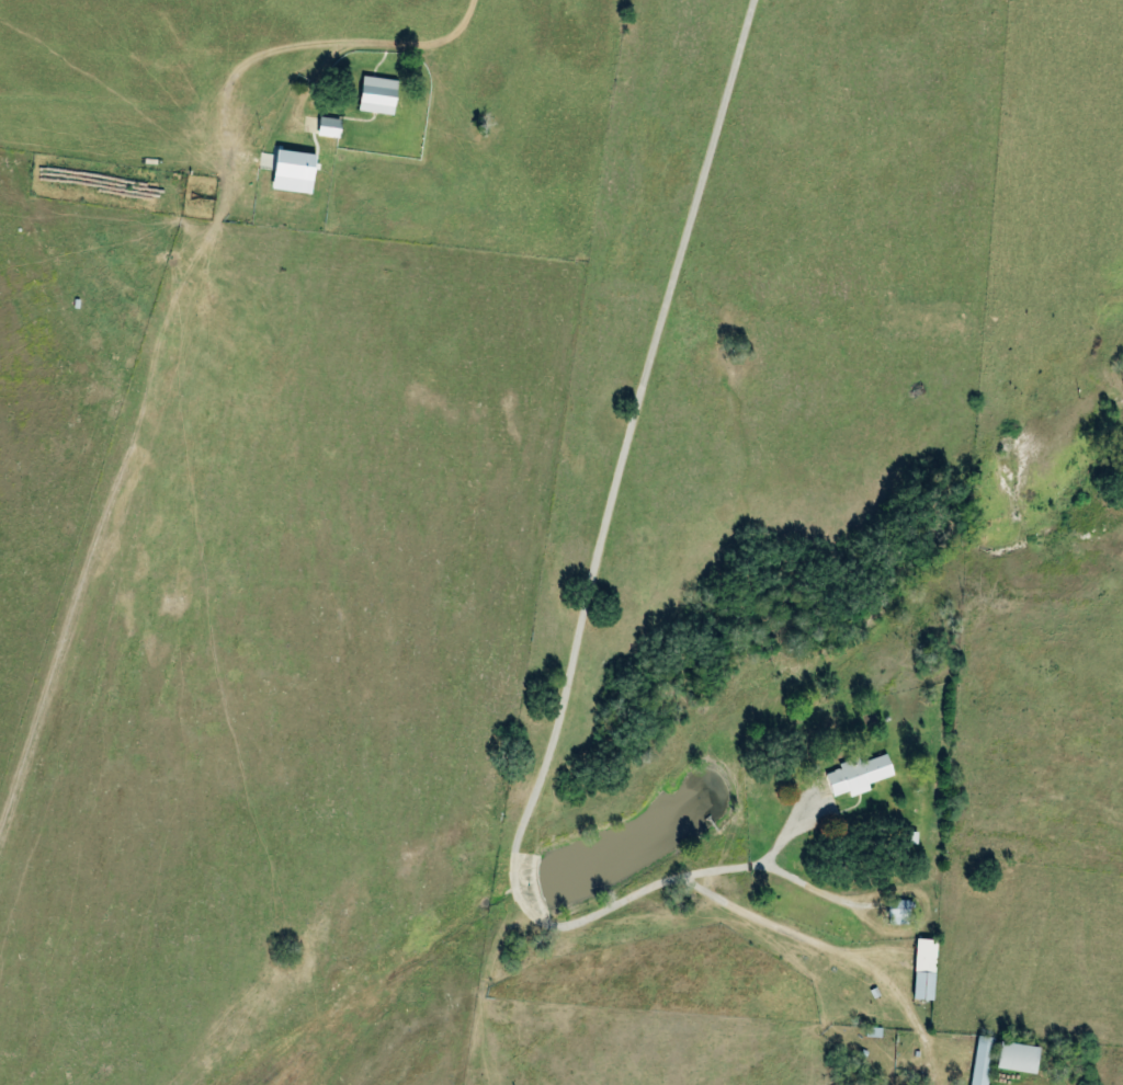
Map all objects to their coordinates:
building: (377, 95)
building: (328, 127)
building: (293, 171)
building: (858, 775)
building: (897, 912)
building: (923, 969)
building: (1017, 1057)
building: (982, 1060)

